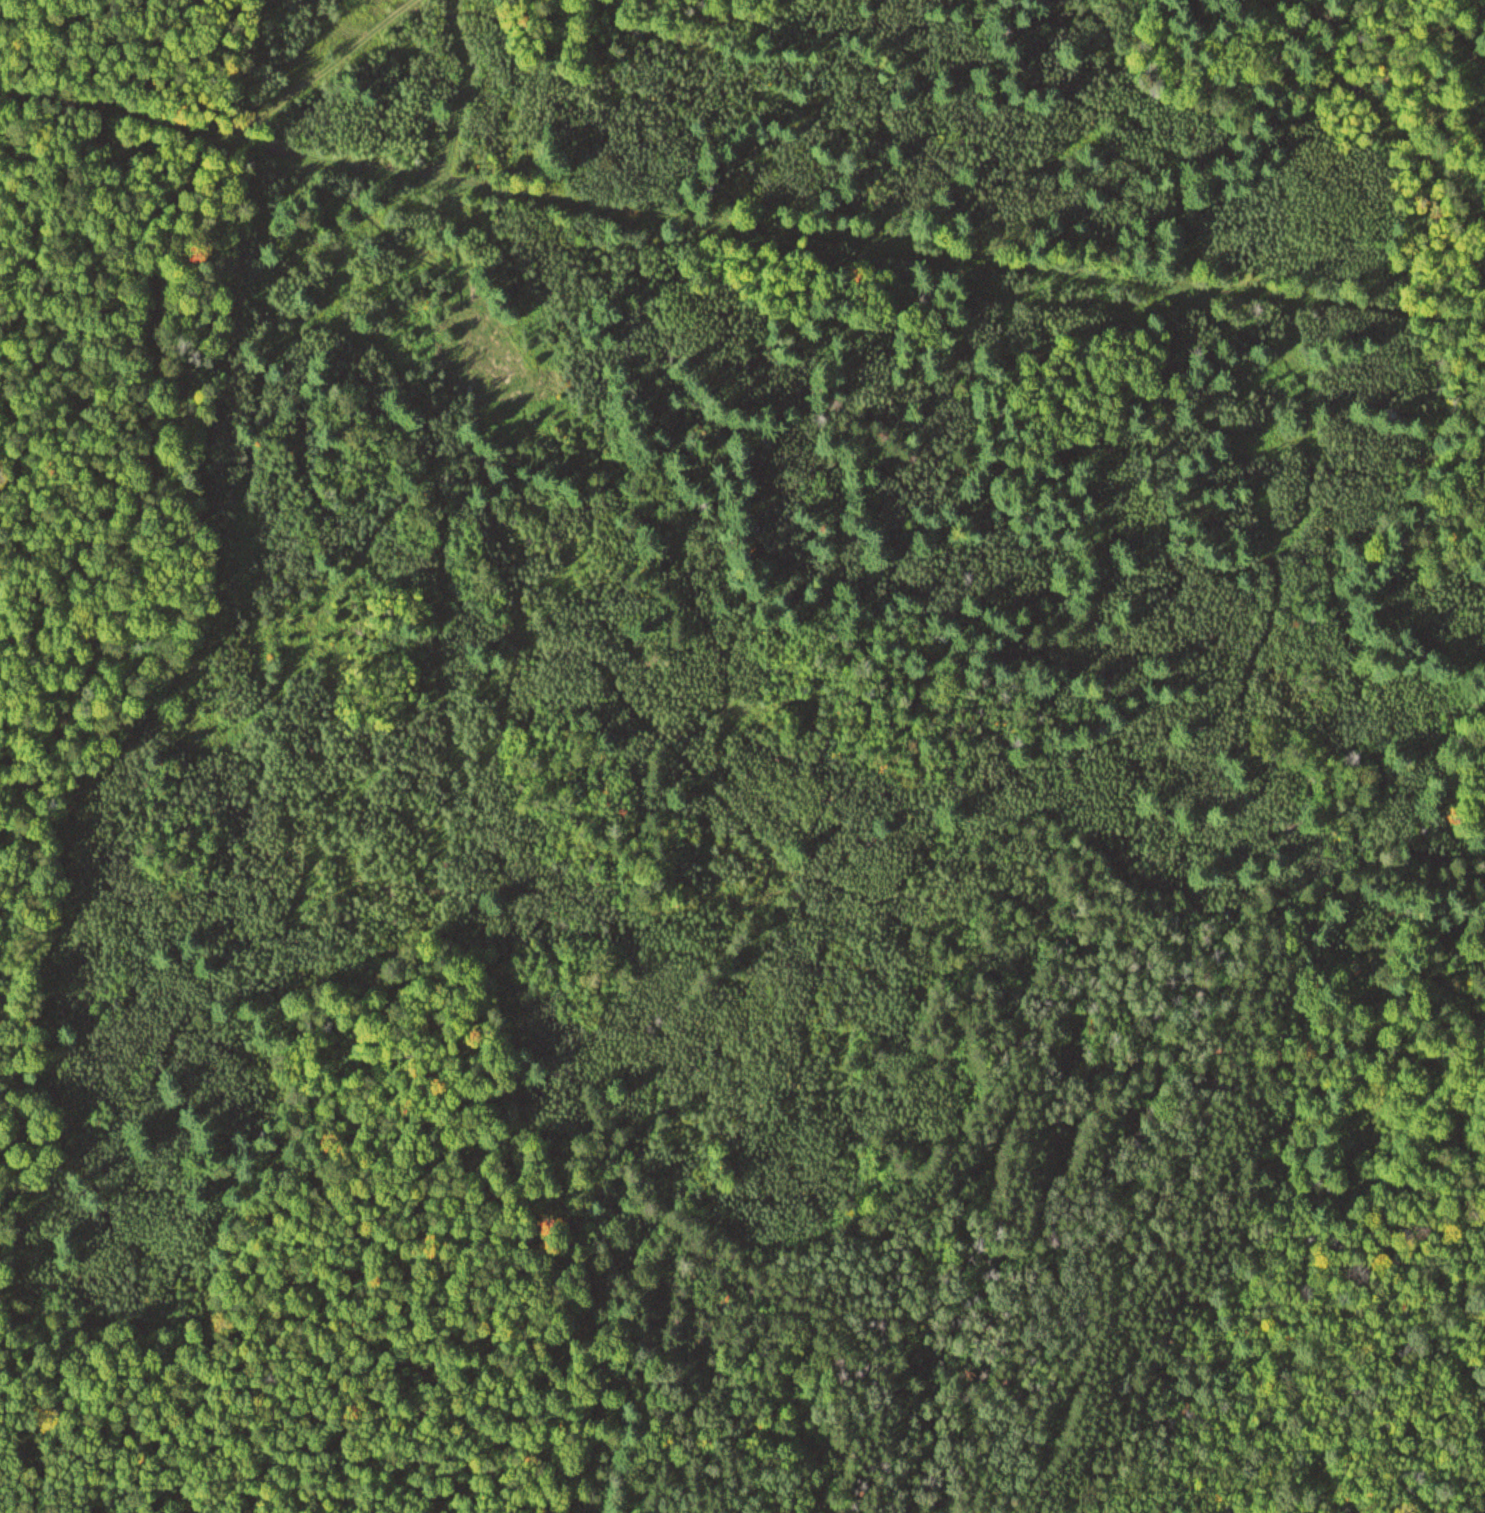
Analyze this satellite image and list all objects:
road: (324, 69)
road: (1374, 107)
road: (739, 221)

